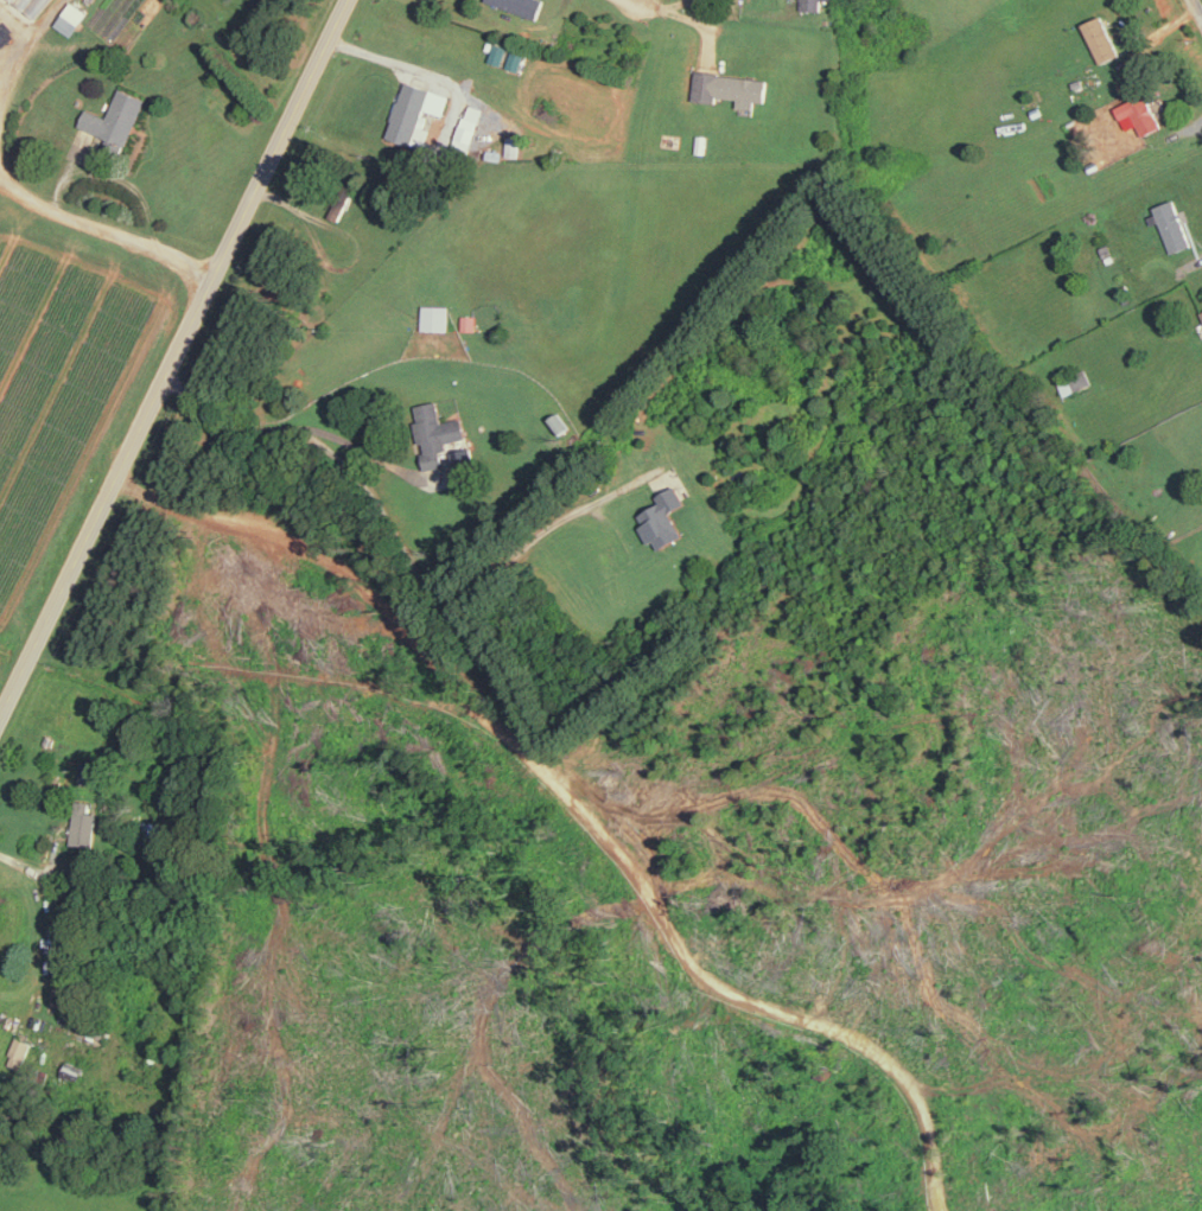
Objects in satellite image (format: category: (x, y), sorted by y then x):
road: (645, 1)
building: (32, 5)
building: (522, 5)
building: (812, 5)
road: (1197, 7)
building: (72, 18)
road: (31, 33)
building: (1102, 39)
building: (498, 53)
building: (516, 59)
road: (419, 70)
building: (730, 88)
building: (415, 109)
building: (1141, 113)
building: (117, 116)
building: (469, 128)
building: (514, 146)
building: (1172, 223)
road: (106, 228)
building: (437, 316)
building: (469, 321)
road: (174, 361)
building: (1075, 381)
building: (438, 432)
building: (464, 460)
building: (664, 517)
road: (399, 542)
building: (90, 770)
building: (84, 823)
building: (146, 831)
building: (74, 1070)

